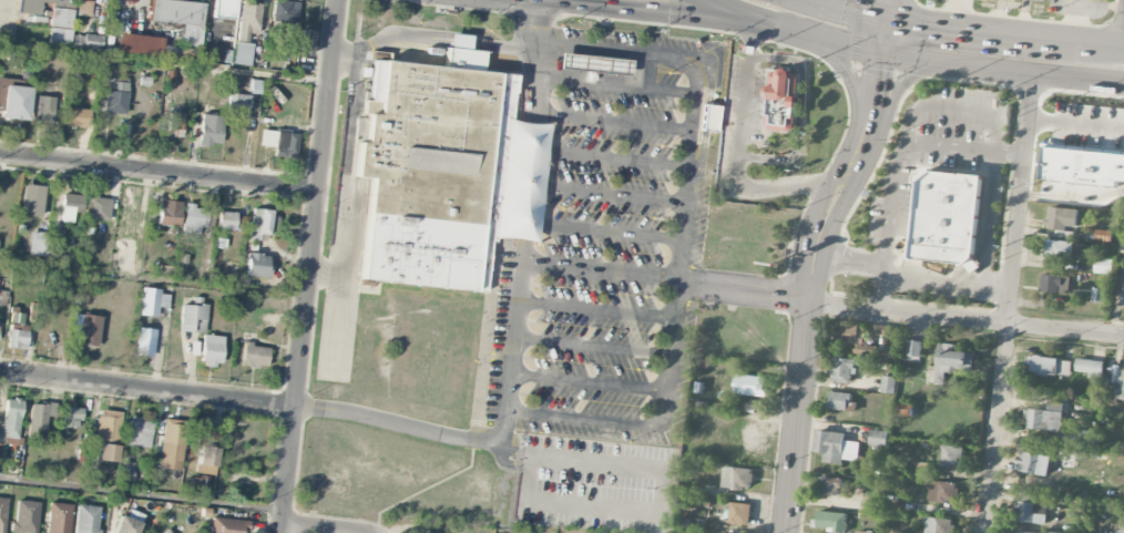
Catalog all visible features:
road: (531, 0)
building: (1039, 0)
road: (815, 3)
road: (821, 3)
road: (842, 4)
building: (40, 6)
building: (225, 9)
road: (890, 10)
building: (284, 11)
road: (652, 11)
road: (738, 12)
road: (859, 14)
building: (61, 18)
building: (178, 18)
traffic signals: (890, 20)
road: (535, 23)
road: (984, 30)
building: (245, 31)
road: (400, 31)
building: (60, 37)
road: (458, 38)
building: (86, 41)
building: (304, 42)
road: (502, 42)
road: (1102, 43)
building: (139, 44)
traffic signals: (885, 58)
road: (165, 63)
building: (592, 63)
gas station: (592, 63)
road: (942, 65)
road: (531, 83)
road: (613, 86)
road: (694, 95)
building: (115, 96)
building: (781, 99)
building: (13, 101)
building: (238, 104)
road: (857, 104)
road: (960, 107)
building: (42, 110)
road: (889, 112)
building: (708, 116)
building: (75, 117)
road: (611, 121)
building: (174, 125)
road: (1075, 125)
building: (210, 130)
building: (279, 142)
road: (963, 150)
road: (736, 155)
road: (607, 156)
road: (349, 162)
building: (1082, 167)
building: (433, 171)
road: (161, 173)
road: (523, 181)
road: (604, 194)
road: (1072, 199)
building: (31, 201)
road: (890, 204)
building: (71, 206)
building: (96, 207)
building: (167, 216)
building: (946, 217)
building: (1061, 218)
building: (193, 219)
building: (226, 221)
road: (988, 221)
building: (259, 222)
road: (600, 230)
parking lot: (602, 235)
building: (1103, 236)
building: (38, 244)
road: (837, 246)
building: (1059, 249)
road: (869, 264)
building: (256, 265)
road: (313, 266)
road: (834, 266)
building: (1103, 266)
road: (596, 270)
road: (813, 270)
road: (931, 280)
road: (155, 281)
road: (688, 283)
building: (1055, 285)
road: (880, 288)
road: (995, 289)
road: (789, 294)
building: (1095, 295)
building: (1123, 295)
building: (2, 298)
road: (1008, 303)
road: (593, 309)
building: (193, 315)
road: (1001, 321)
road: (509, 325)
building: (85, 329)
building: (882, 330)
building: (852, 336)
road: (590, 345)
building: (914, 349)
building: (211, 350)
building: (892, 352)
road: (671, 353)
building: (254, 356)
building: (952, 363)
building: (1050, 367)
building: (1091, 368)
building: (842, 370)
road: (586, 382)
building: (1118, 383)
building: (888, 385)
building: (750, 386)
road: (147, 391)
building: (839, 401)
building: (905, 411)
road: (477, 414)
building: (71, 417)
building: (38, 419)
road: (583, 419)
building: (11, 421)
building: (1044, 421)
road: (396, 423)
road: (499, 428)
building: (140, 432)
building: (108, 434)
building: (878, 438)
building: (1066, 439)
building: (172, 444)
building: (836, 448)
building: (206, 450)
building: (1, 451)
road: (512, 452)
building: (951, 455)
road: (507, 462)
road: (596, 462)
building: (1033, 463)
building: (126, 471)
building: (924, 471)
building: (737, 478)
building: (198, 485)
building: (830, 486)
building: (943, 492)
road: (143, 495)
road: (591, 503)
building: (2, 513)
building: (1031, 513)
building: (739, 514)
building: (25, 516)
building: (58, 517)
building: (86, 519)
building: (830, 522)
building: (125, 525)
building: (228, 525)
building: (938, 525)
road: (327, 527)
park: (546, 529)
building: (1121, 530)
building: (166, 531)
building: (861, 532)
building: (1049, 532)

